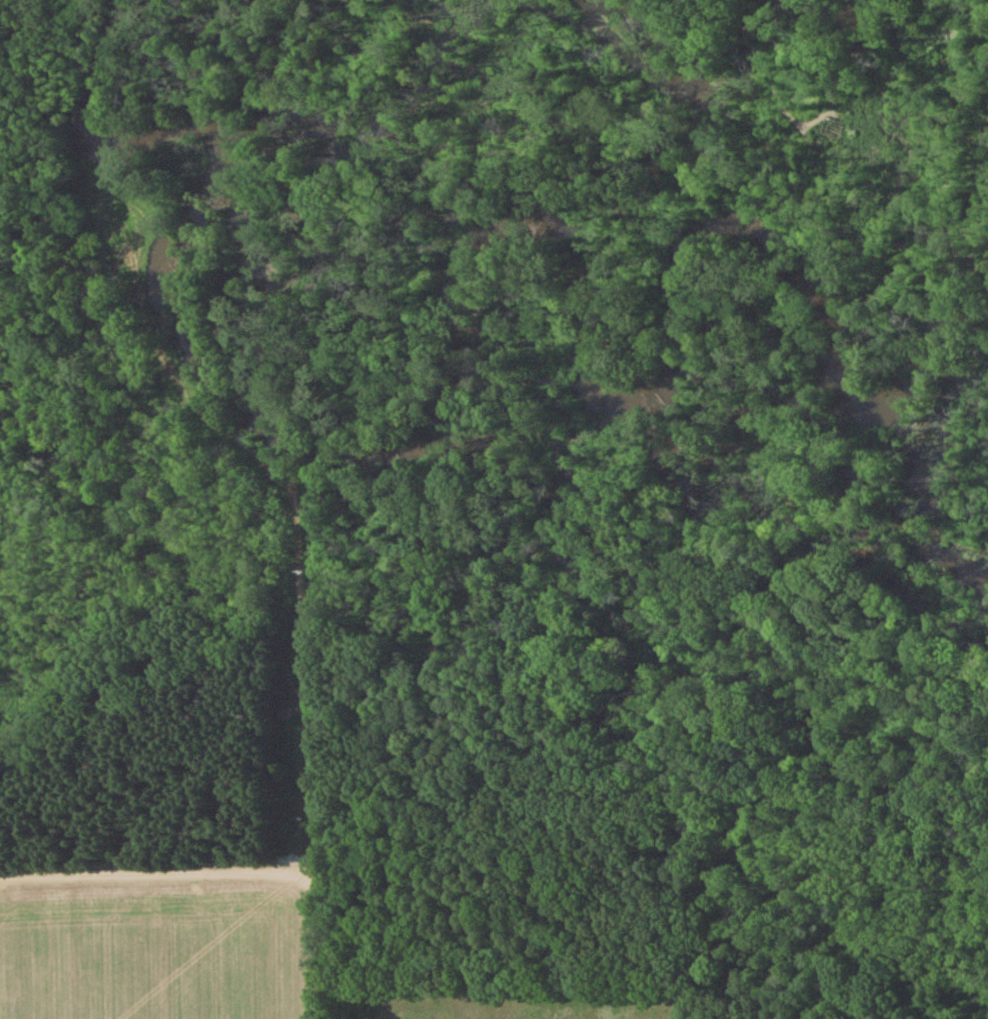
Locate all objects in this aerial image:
road: (755, 975)

